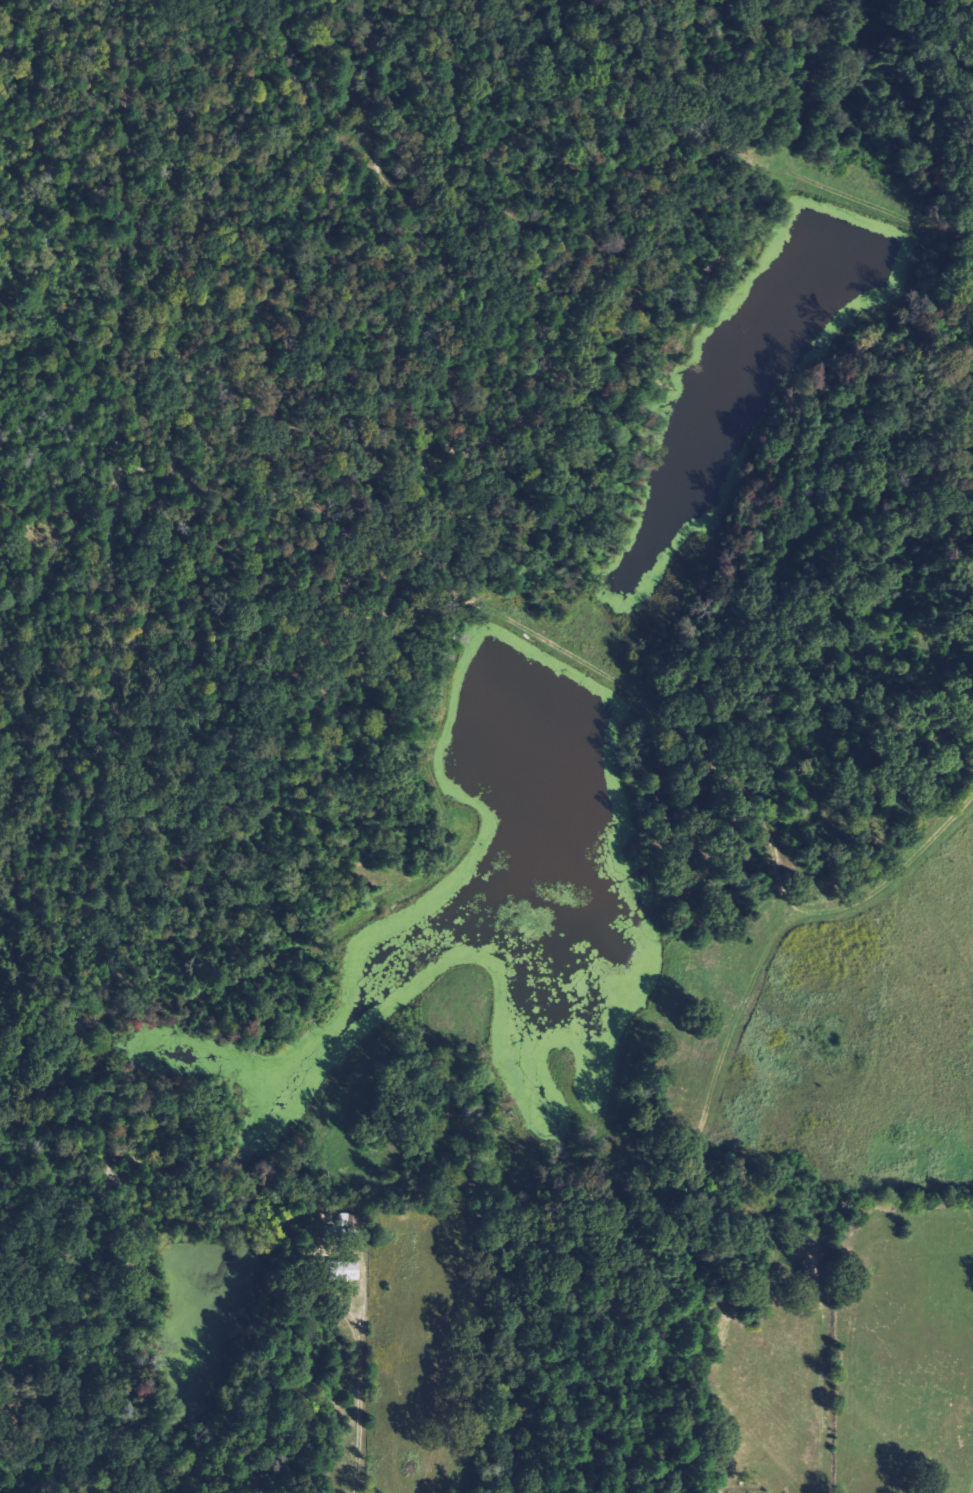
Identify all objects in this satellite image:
road: (352, 1396)

